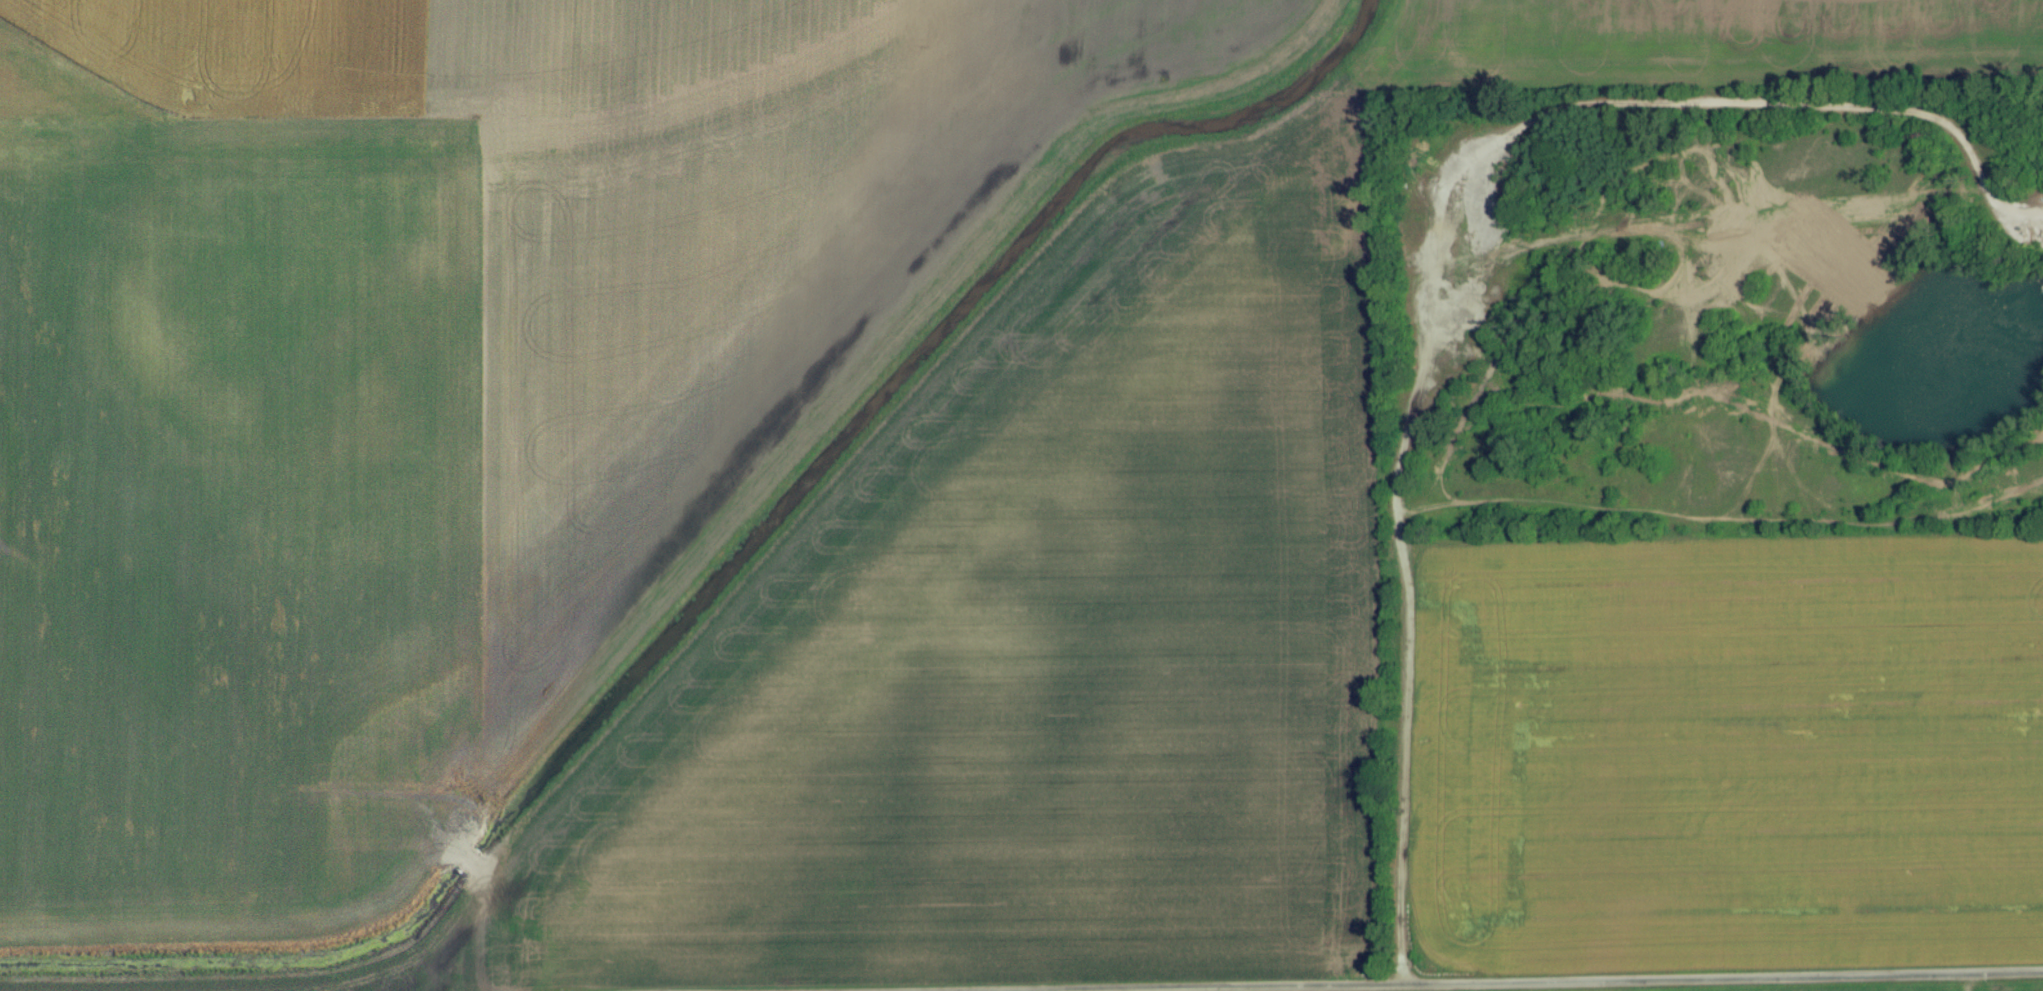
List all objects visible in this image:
road: (1716, 985)

